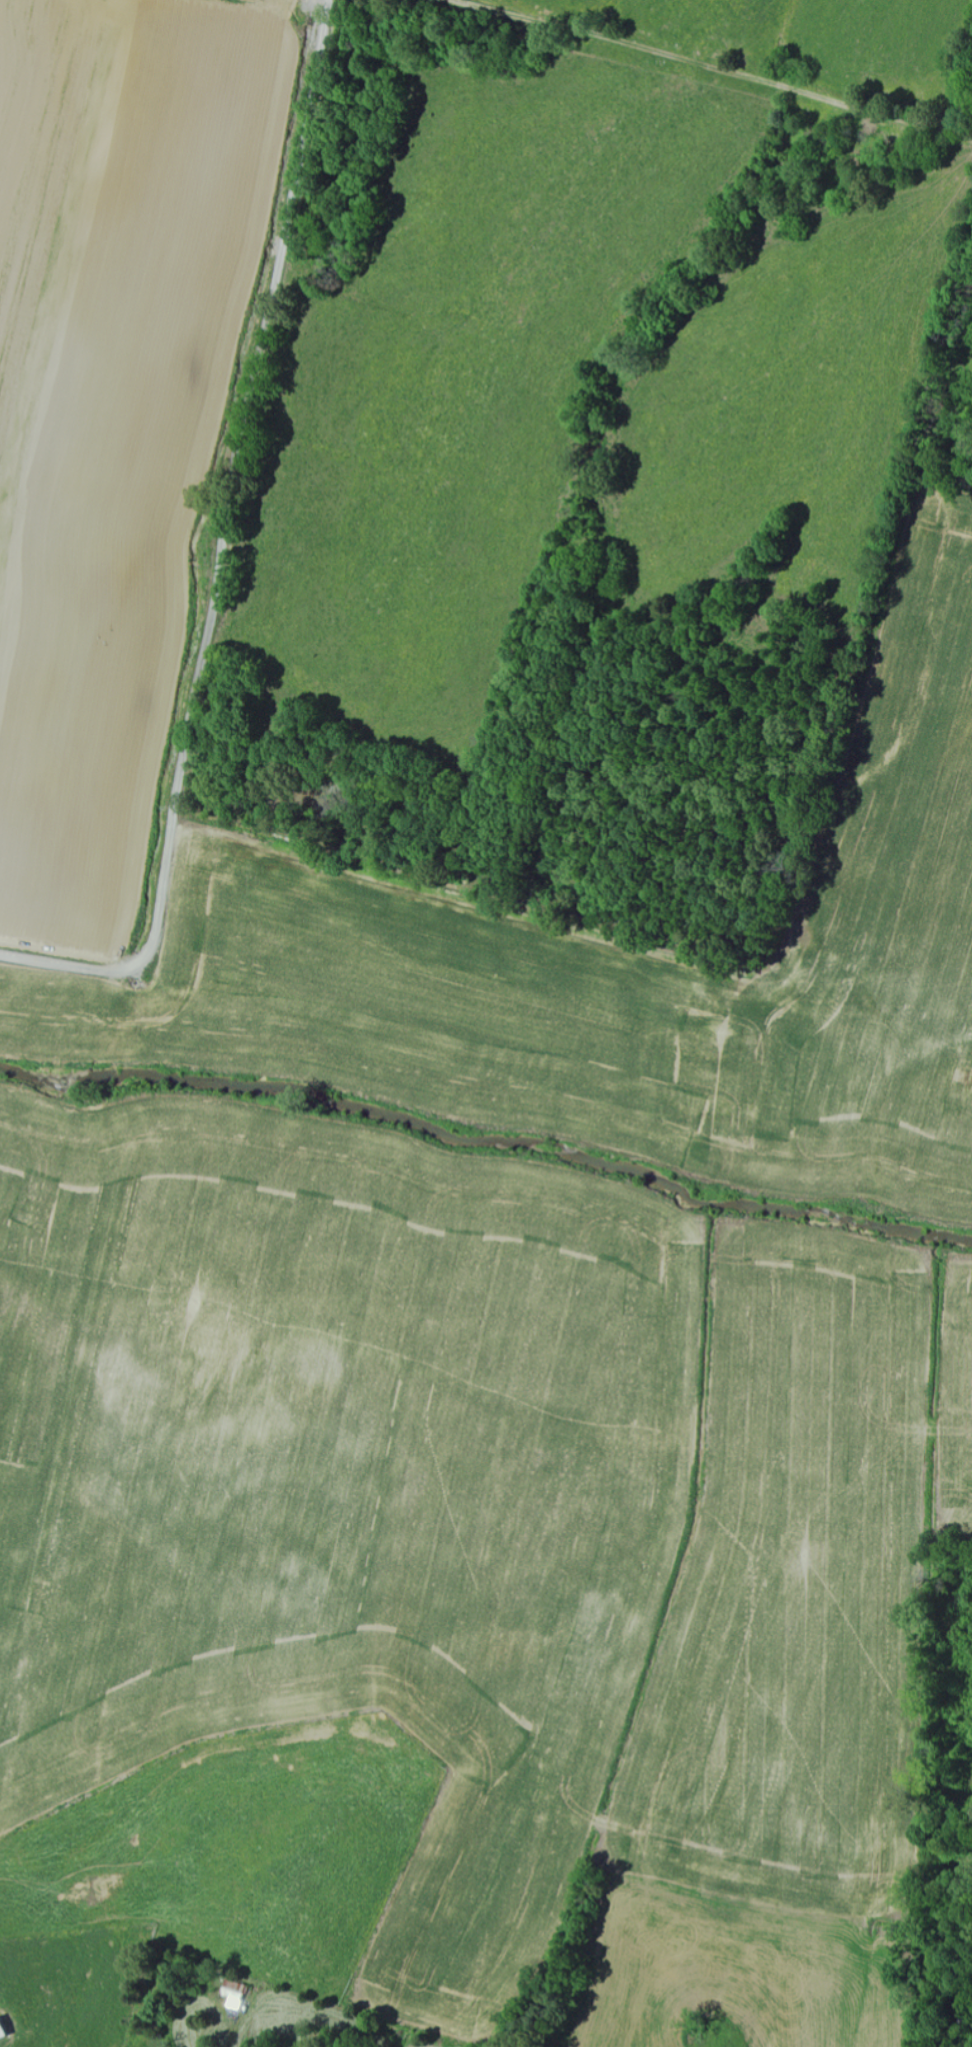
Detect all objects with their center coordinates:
road: (673, 75)
road: (222, 553)
building: (240, 1994)

